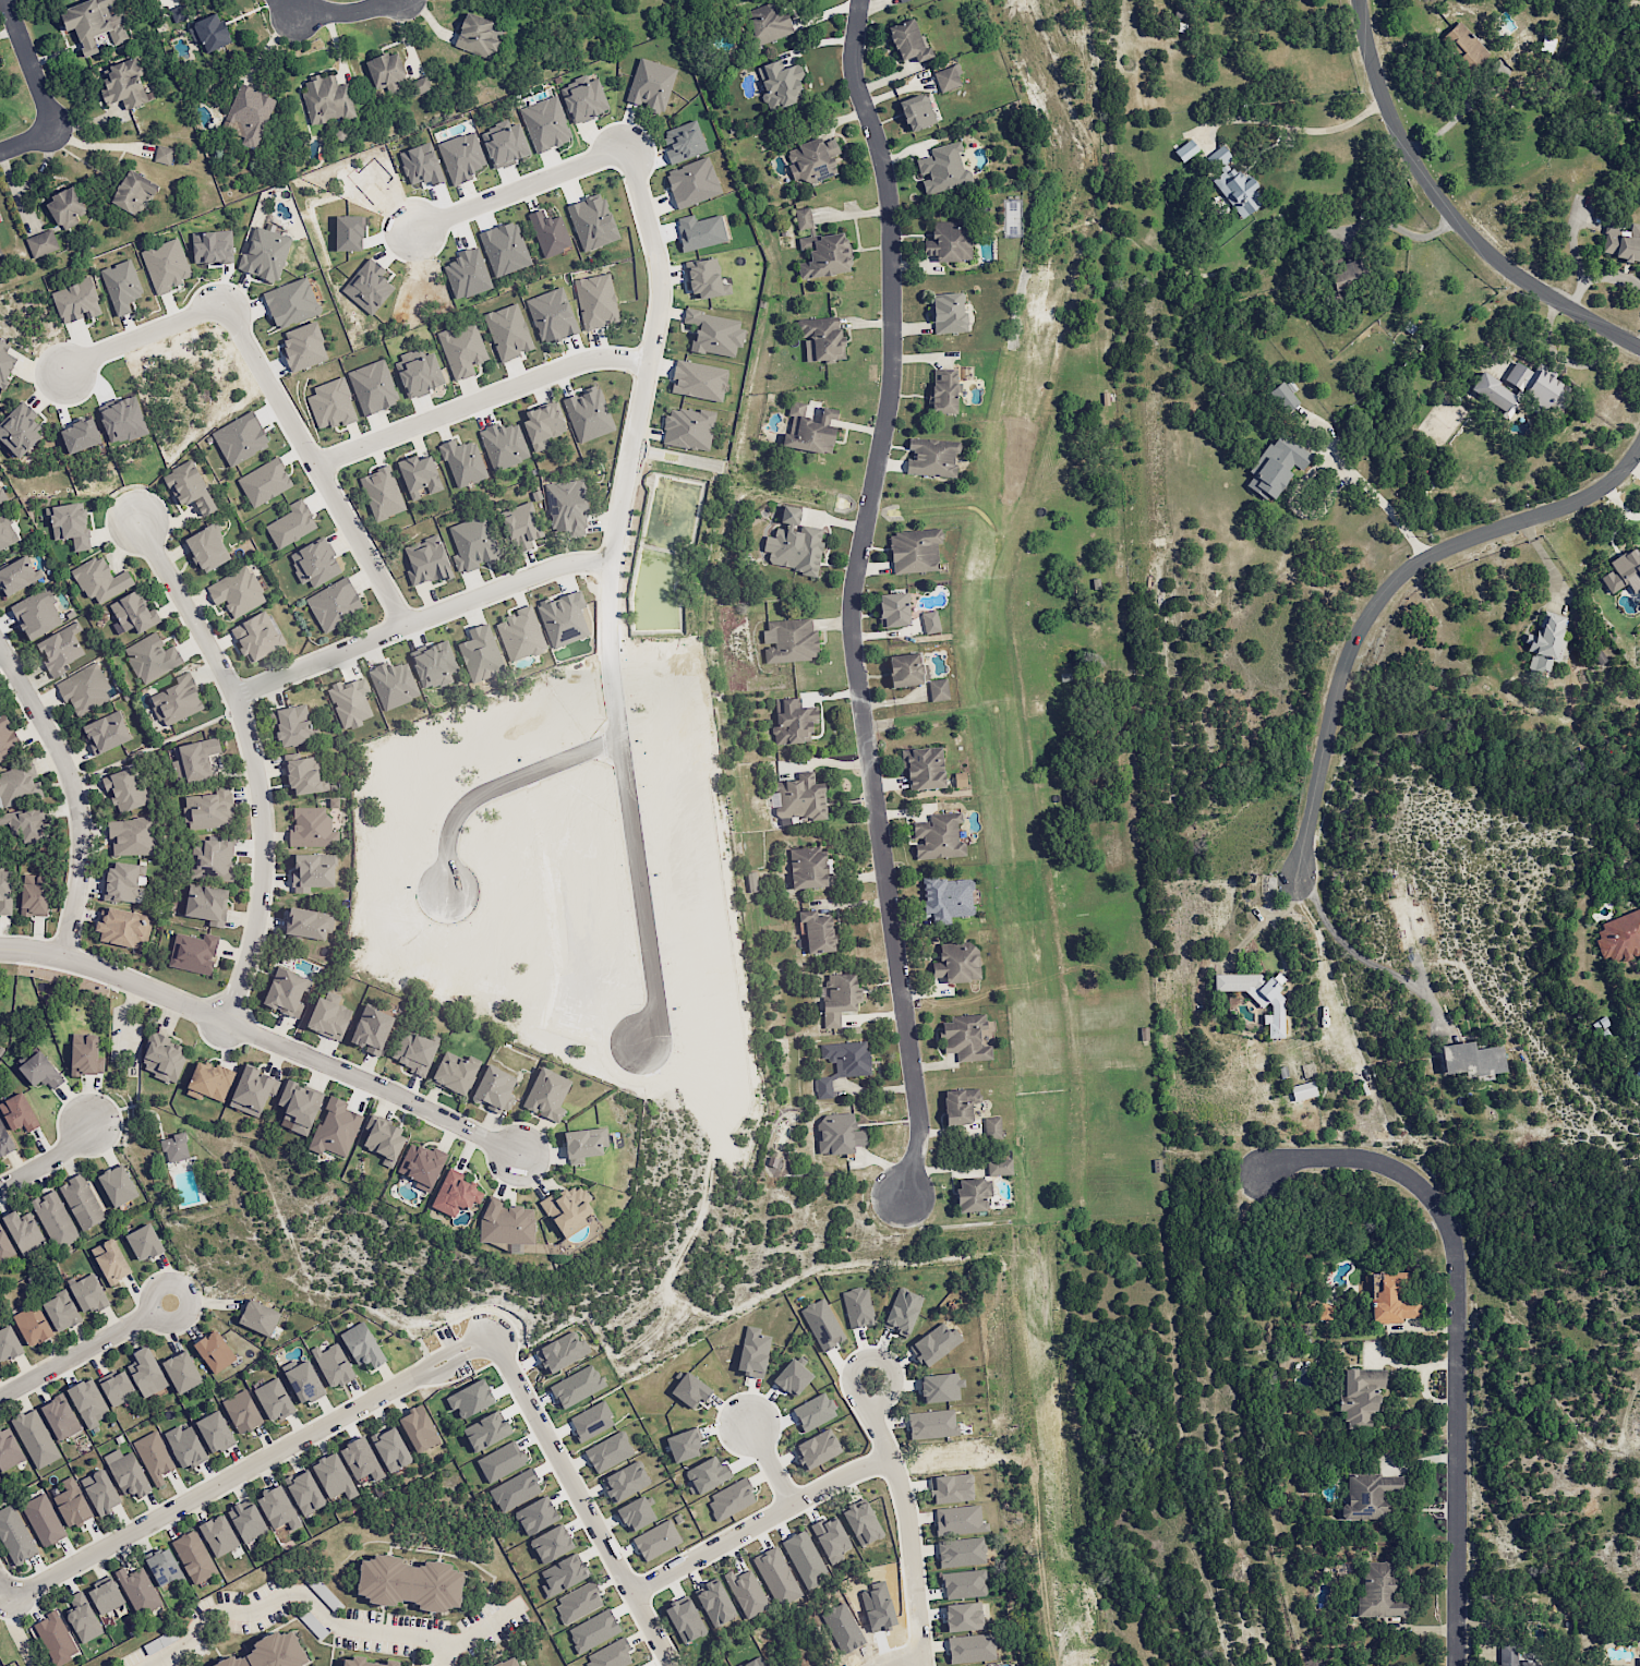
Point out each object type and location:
building: (897, 0)
road: (297, 11)
road: (350, 11)
building: (179, 12)
building: (89, 24)
building: (765, 24)
building: (208, 32)
building: (477, 34)
road: (29, 64)
building: (394, 74)
building: (946, 82)
building: (652, 86)
building: (582, 90)
building: (325, 99)
building: (540, 107)
building: (917, 114)
building: (249, 116)
road: (1460, 117)
road: (1300, 129)
road: (26, 140)
road: (100, 145)
building: (162, 155)
road: (517, 189)
building: (1237, 191)
building: (142, 192)
building: (74, 205)
road: (1448, 214)
road: (1398, 228)
building: (951, 244)
building: (1623, 246)
building: (0, 255)
building: (267, 257)
building: (828, 261)
building: (168, 267)
road: (1599, 279)
building: (707, 282)
building: (124, 288)
building: (79, 304)
building: (598, 304)
building: (293, 306)
building: (553, 318)
building: (948, 321)
road: (140, 334)
building: (507, 336)
building: (715, 337)
road: (1638, 343)
building: (306, 350)
building: (463, 353)
building: (5, 366)
building: (420, 376)
building: (1536, 385)
building: (374, 390)
road: (643, 390)
building: (941, 390)
building: (1494, 394)
building: (1283, 396)
road: (478, 399)
building: (589, 417)
building: (545, 428)
building: (688, 432)
building: (20, 434)
building: (813, 437)
building: (242, 443)
building: (506, 448)
building: (930, 457)
road: (312, 466)
building: (1276, 466)
building: (466, 467)
building: (421, 479)
building: (193, 491)
road: (1377, 498)
building: (567, 503)
building: (68, 524)
building: (788, 535)
building: (472, 538)
building: (913, 551)
building: (1623, 571)
building: (17, 581)
road: (1383, 589)
road: (852, 597)
building: (893, 608)
road: (422, 620)
building: (929, 621)
building: (1546, 641)
building: (906, 668)
building: (938, 689)
building: (294, 729)
building: (107, 736)
road: (253, 760)
building: (197, 761)
building: (924, 768)
road: (495, 788)
road: (73, 794)
building: (938, 836)
road: (632, 838)
building: (205, 861)
building: (809, 867)
building: (307, 868)
building: (120, 881)
building: (752, 881)
building: (31, 894)
building: (948, 898)
building: (204, 904)
building: (304, 922)
building: (119, 927)
building: (817, 930)
building: (1619, 935)
building: (193, 952)
road: (1359, 955)
building: (956, 963)
building: (285, 991)
building: (837, 998)
building: (1276, 1009)
building: (326, 1016)
road: (224, 1027)
building: (370, 1029)
road: (263, 1037)
building: (965, 1038)
building: (413, 1051)
building: (83, 1054)
building: (162, 1057)
building: (846, 1057)
building: (1471, 1059)
building: (1639, 1070)
building: (38, 1071)
building: (453, 1073)
building: (205, 1081)
building: (822, 1087)
building: (493, 1088)
building: (251, 1090)
building: (1303, 1090)
building: (546, 1097)
building: (298, 1106)
building: (19, 1114)
building: (969, 1114)
building: (335, 1128)
building: (837, 1134)
building: (384, 1140)
building: (582, 1144)
building: (173, 1147)
road: (49, 1162)
building: (420, 1164)
building: (999, 1167)
building: (116, 1185)
building: (455, 1193)
building: (973, 1194)
building: (80, 1202)
building: (567, 1210)
building: (53, 1219)
building: (506, 1223)
building: (27, 1231)
building: (143, 1242)
building: (111, 1261)
building: (87, 1293)
road: (150, 1297)
building: (1390, 1299)
building: (60, 1311)
building: (257, 1317)
building: (821, 1324)
building: (29, 1328)
road: (1459, 1335)
building: (934, 1343)
building: (361, 1345)
building: (8, 1347)
building: (214, 1351)
building: (563, 1351)
building: (752, 1352)
road: (76, 1354)
building: (331, 1365)
building: (145, 1372)
building: (181, 1372)
building: (792, 1378)
building: (302, 1383)
building: (940, 1387)
building: (116, 1388)
building: (1359, 1395)
building: (273, 1400)
building: (87, 1402)
building: (241, 1411)
building: (59, 1417)
building: (931, 1424)
building: (418, 1428)
building: (215, 1432)
building: (35, 1438)
building: (683, 1445)
building: (184, 1446)
building: (390, 1449)
building: (816, 1449)
building: (608, 1451)
building: (154, 1457)
building: (360, 1459)
road: (772, 1464)
road: (252, 1465)
building: (126, 1473)
building: (333, 1476)
building: (625, 1481)
building: (951, 1488)
building: (100, 1492)
building: (304, 1492)
road: (581, 1495)
building: (1367, 1495)
building: (731, 1498)
building: (72, 1502)
building: (277, 1509)
building: (635, 1513)
building: (535, 1516)
road: (908, 1519)
building: (43, 1520)
building: (246, 1520)
building: (958, 1520)
road: (762, 1522)
building: (861, 1522)
building: (218, 1535)
building: (16, 1536)
building: (830, 1538)
building: (655, 1540)
building: (551, 1544)
building: (961, 1552)
building: (193, 1556)
building: (805, 1559)
building: (162, 1567)
building: (563, 1573)
building: (776, 1576)
building: (415, 1583)
building: (963, 1583)
road: (5, 1590)
building: (137, 1590)
building: (1378, 1591)
building: (746, 1592)
building: (324, 1593)
building: (106, 1594)
building: (577, 1603)
building: (714, 1603)
building: (963, 1616)
building: (82, 1617)
road: (327, 1618)
building: (685, 1619)
building: (592, 1630)
road: (19, 1633)
building: (55, 1639)
building: (970, 1647)
building: (280, 1653)
road: (443, 1654)
building: (610, 1654)
building: (1510, 1656)
road: (904, 1658)
building: (1637, 1661)
building: (515, 1662)
road: (667, 1663)
building: (366, 1664)
building: (1374, 1664)
building: (988, 1665)

